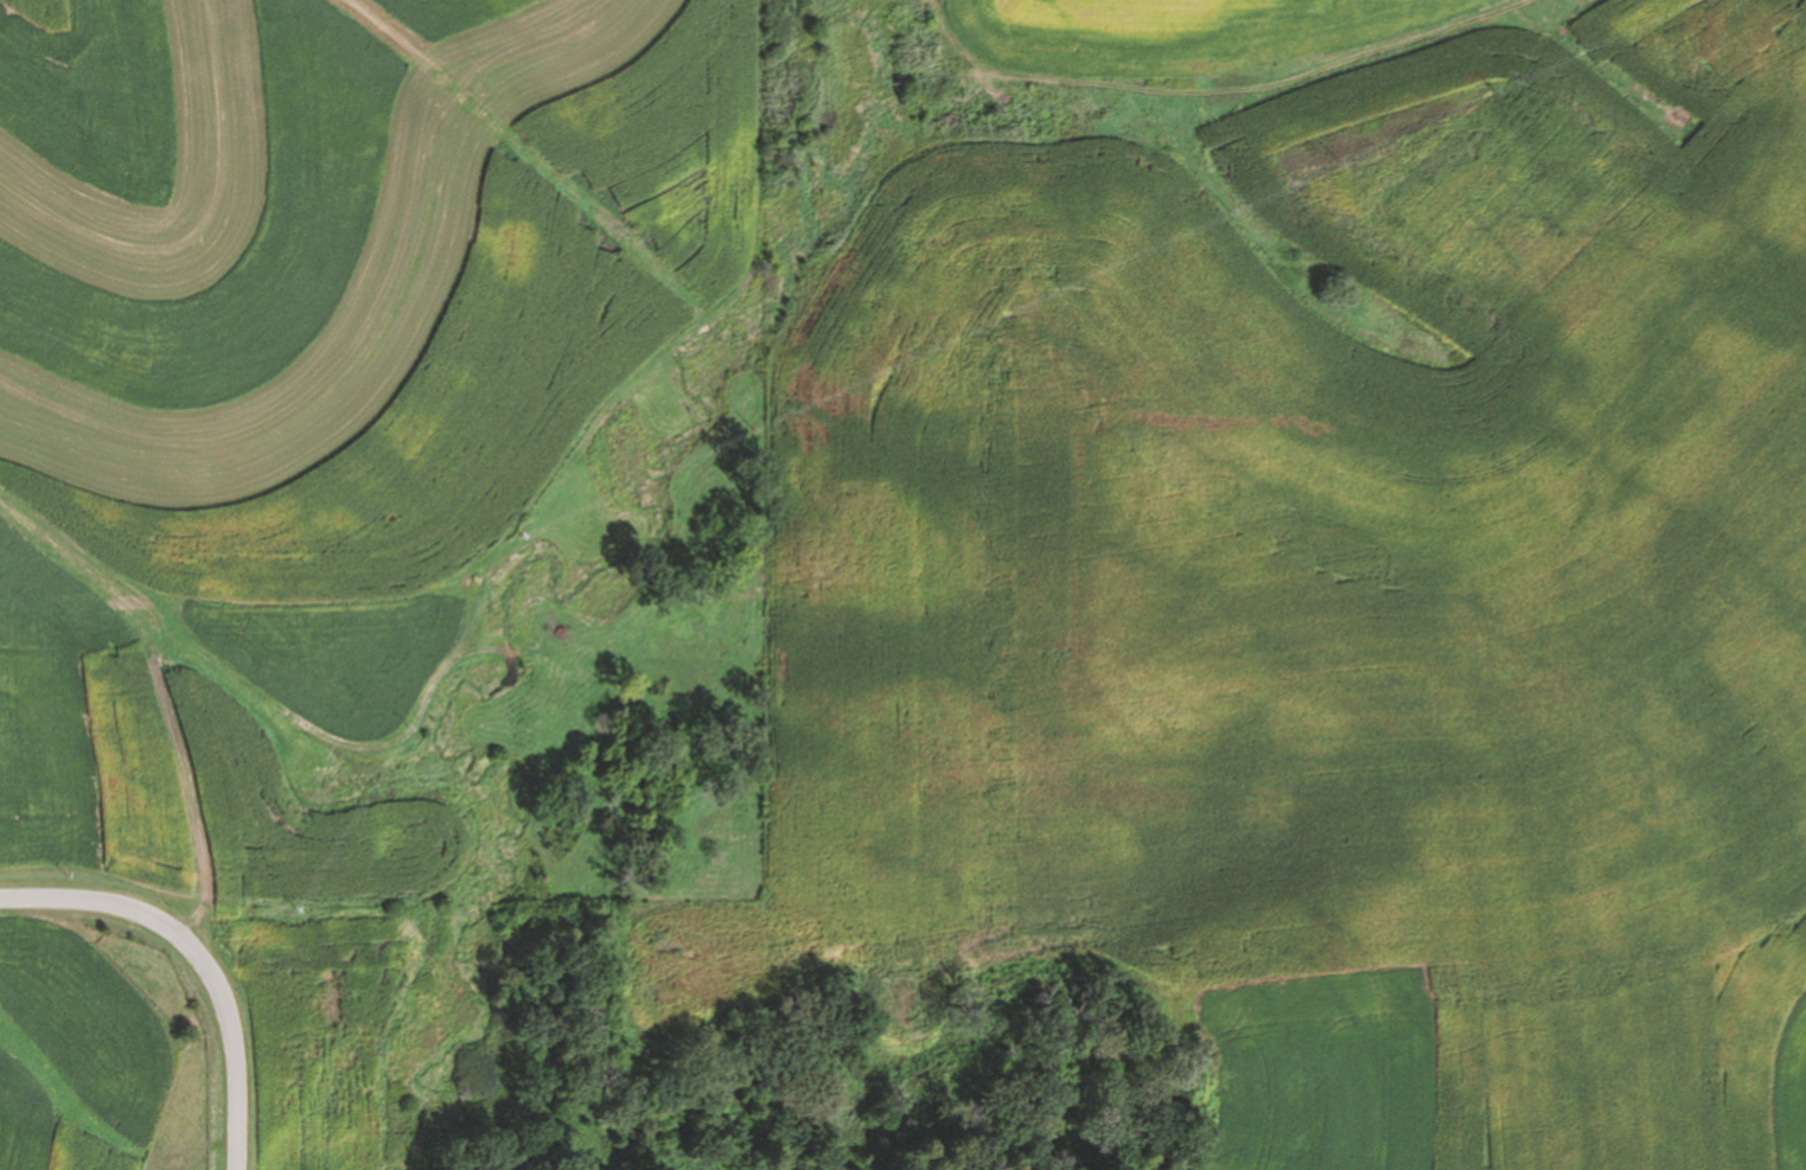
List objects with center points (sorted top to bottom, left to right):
road: (198, 959)

